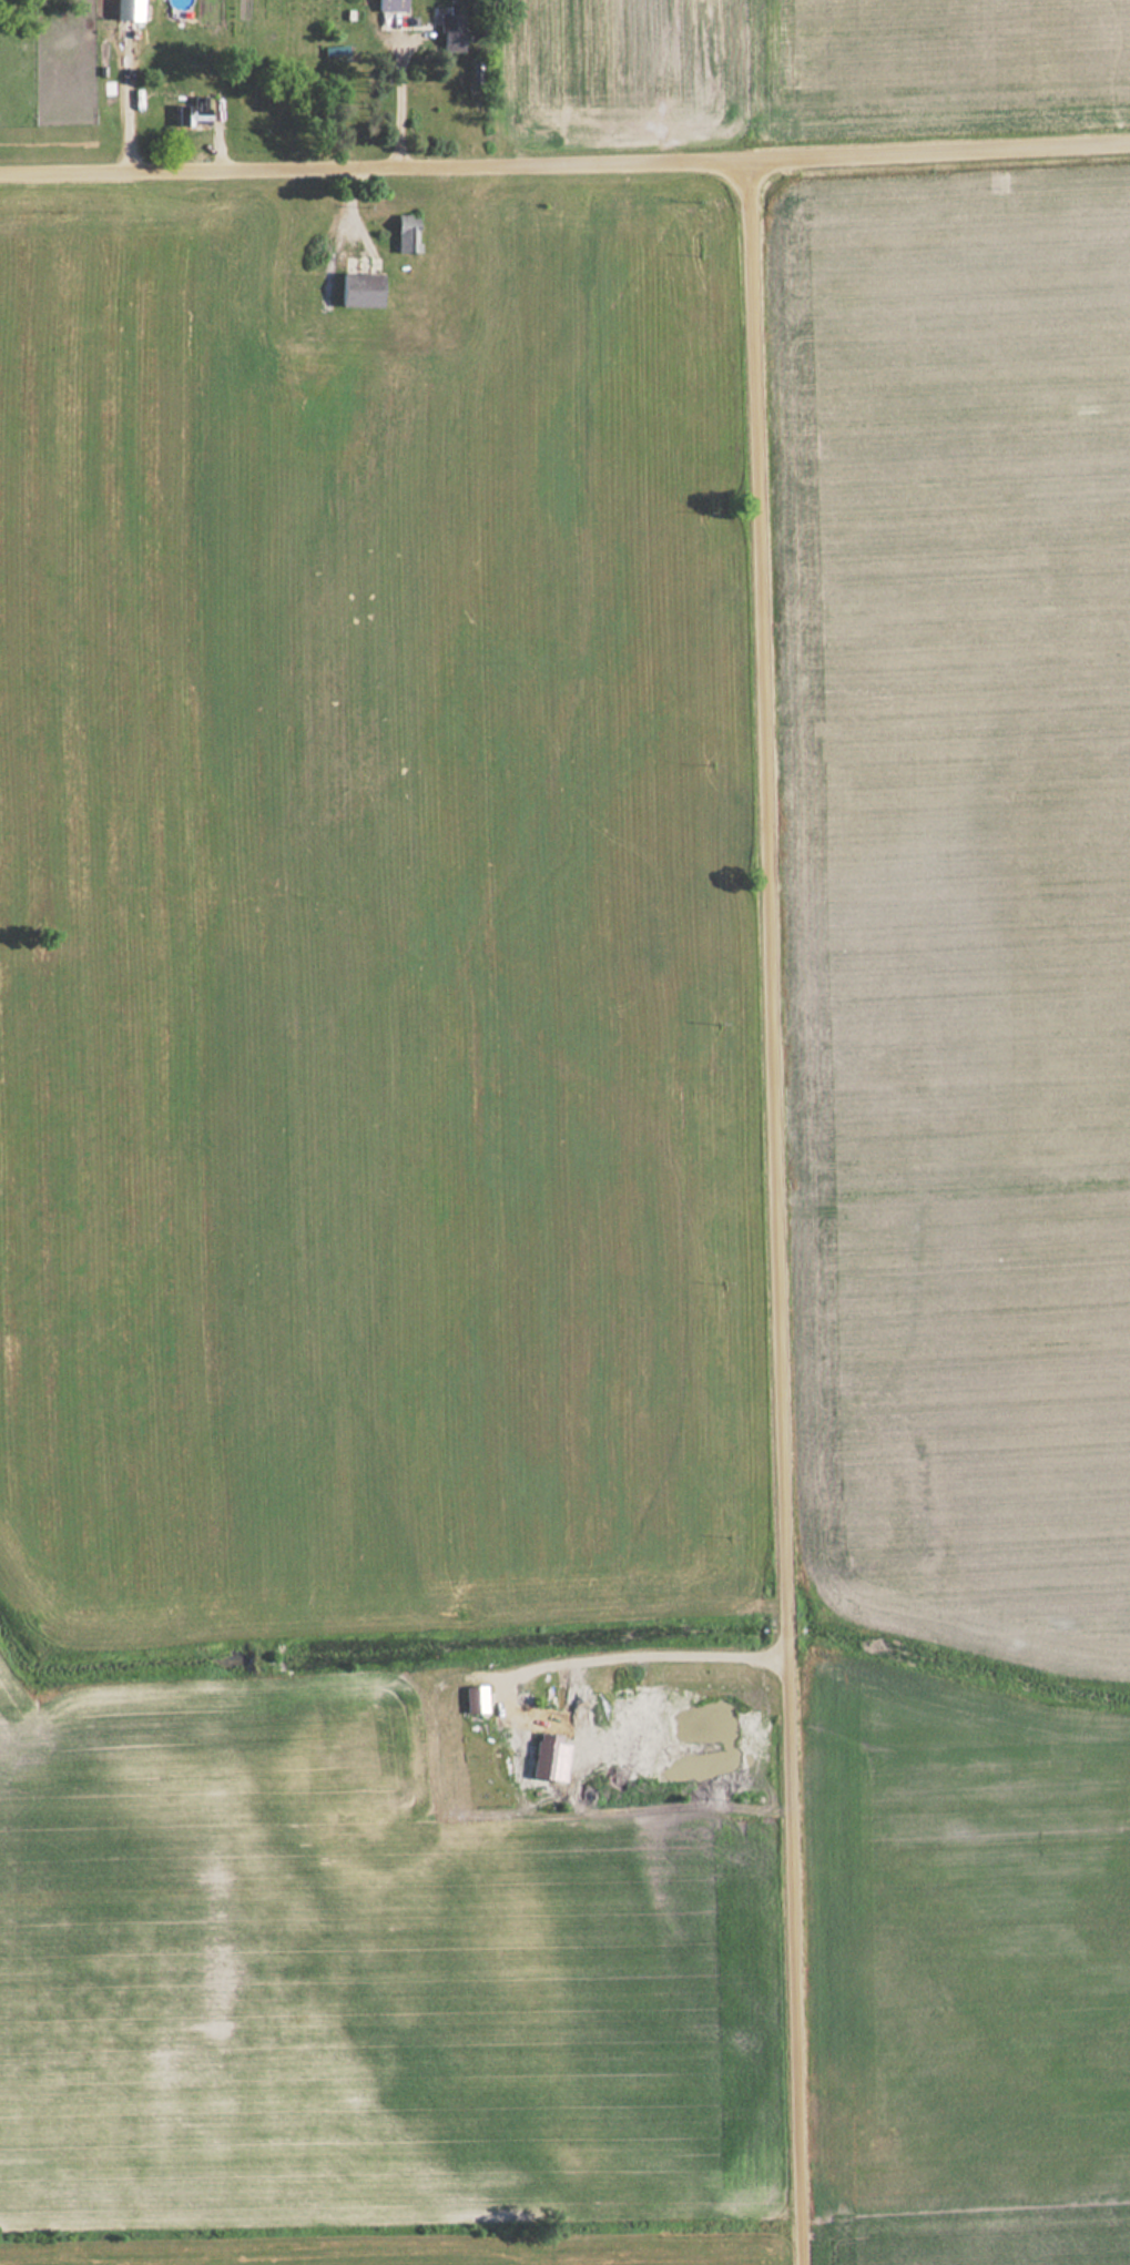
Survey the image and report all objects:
building: (391, 4)
building: (128, 10)
building: (449, 30)
building: (193, 113)
road: (564, 170)
building: (405, 234)
building: (358, 290)
road: (780, 1215)
building: (475, 1699)
building: (513, 1743)

